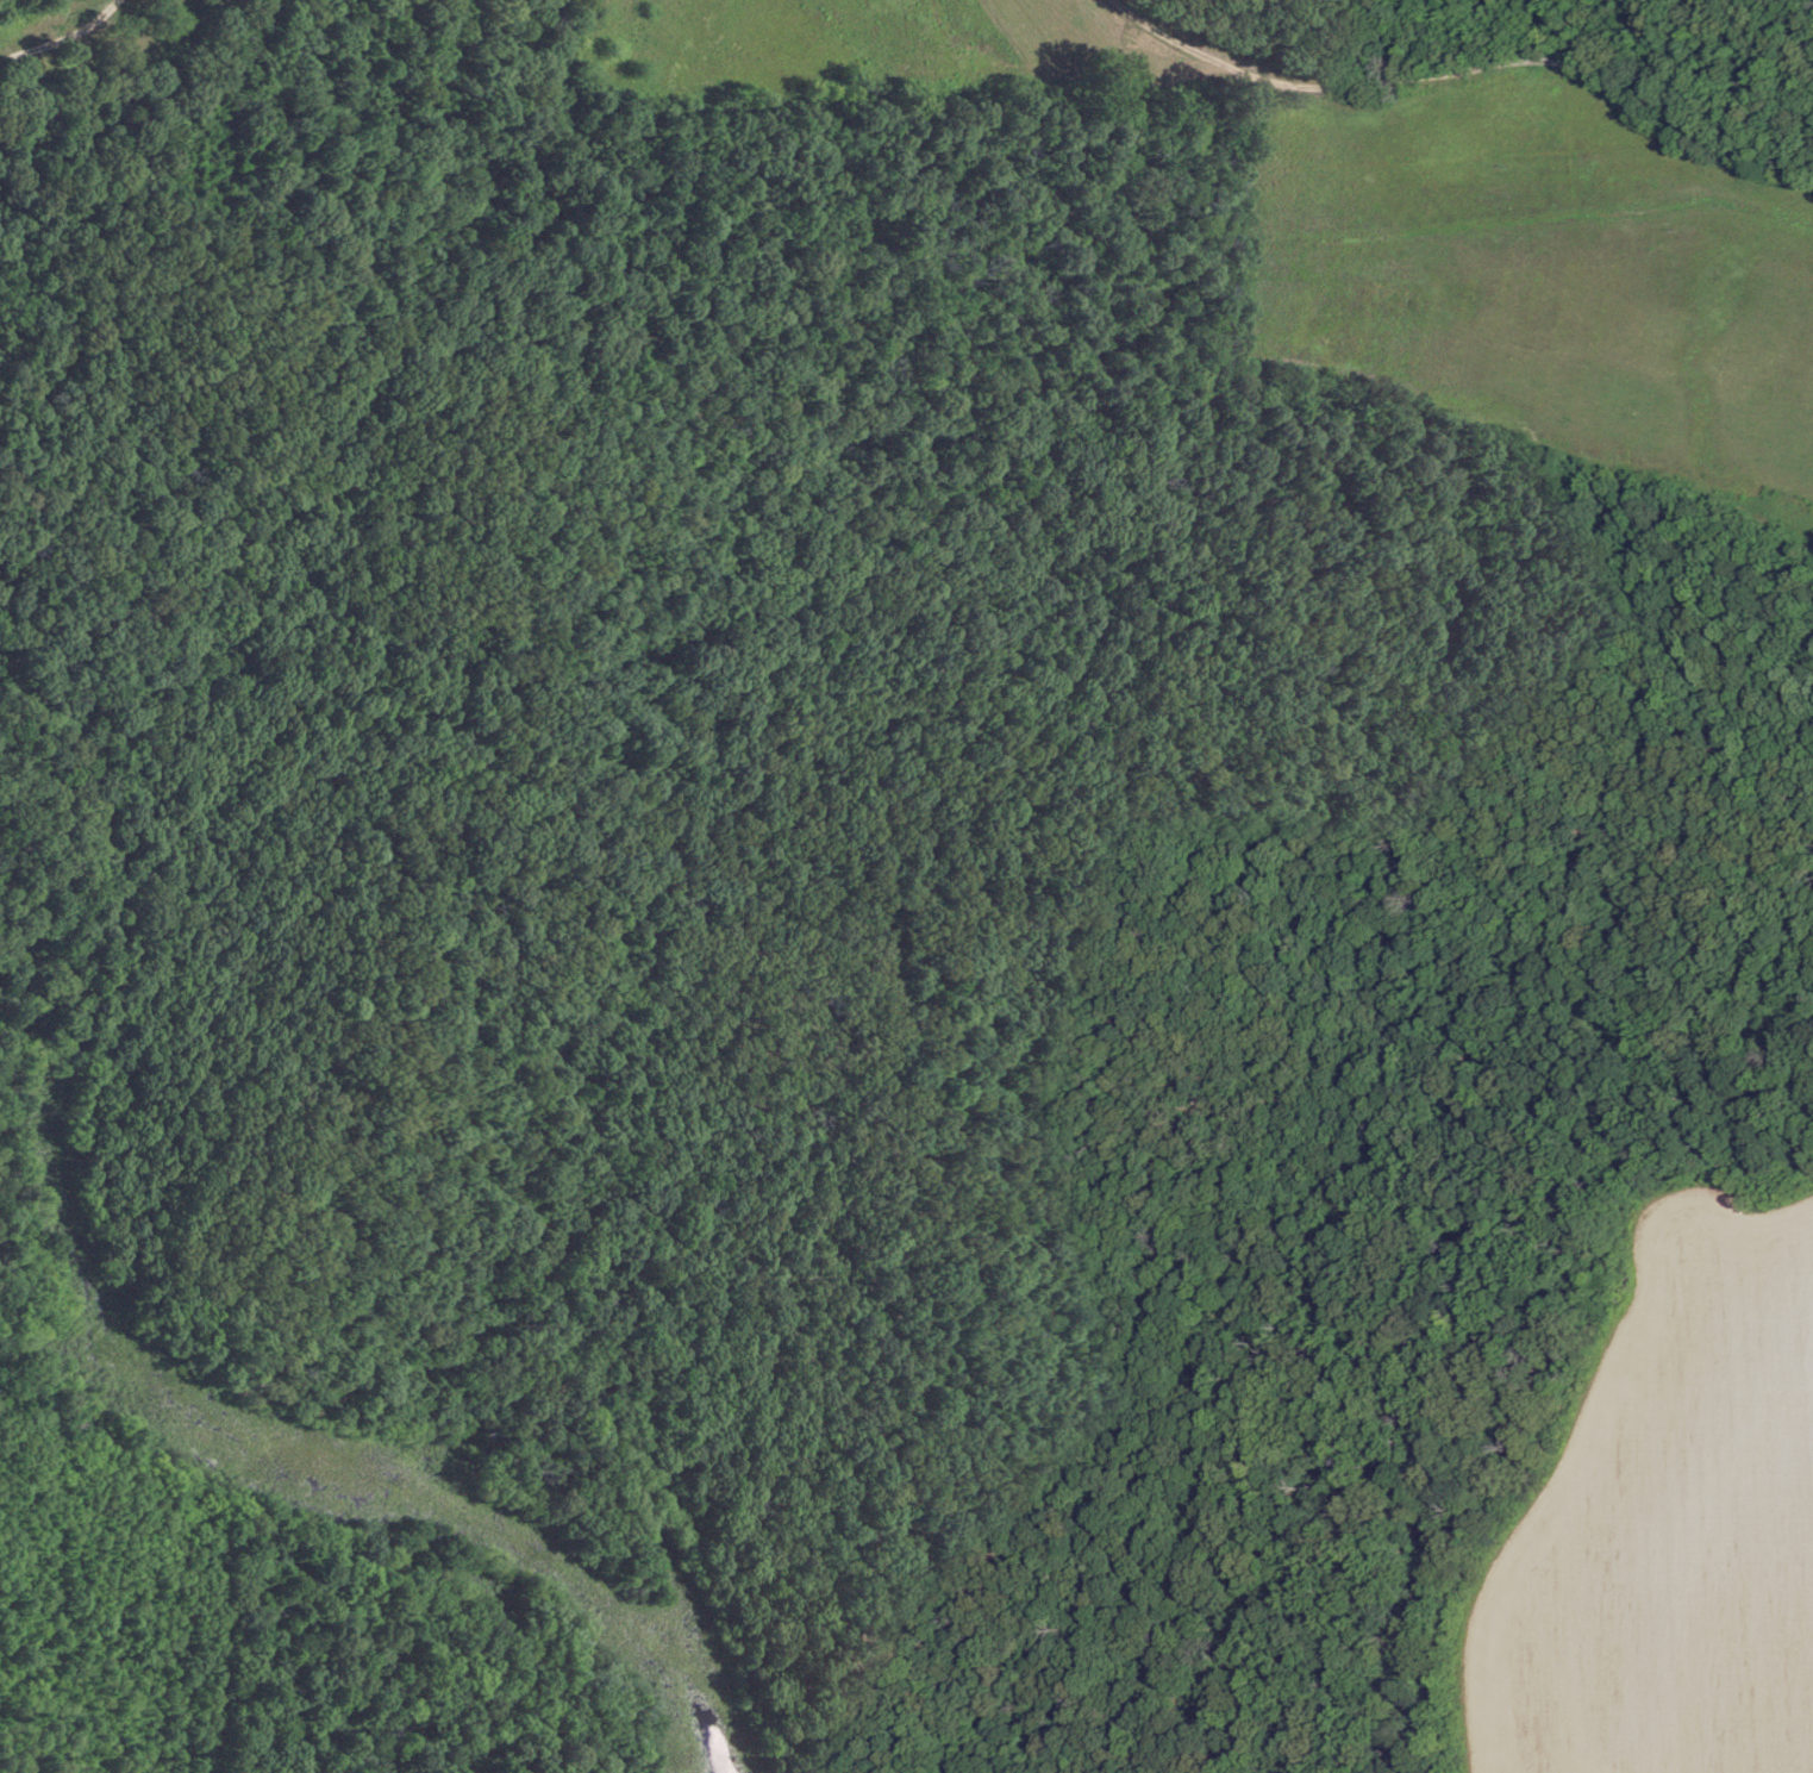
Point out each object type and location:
road: (63, 36)
road: (1184, 50)

